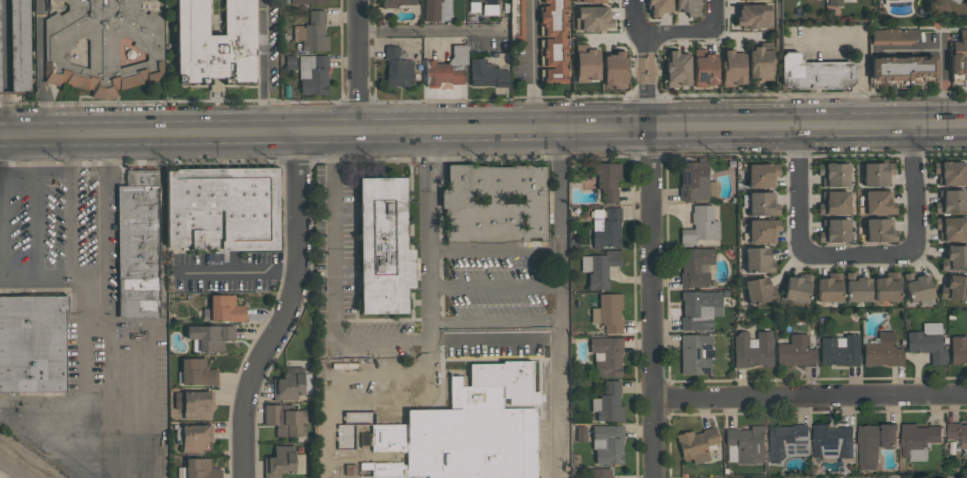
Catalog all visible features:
building: (591, 0)
building: (751, 0)
building: (851, 0)
building: (953, 0)
building: (308, 2)
building: (398, 3)
building: (834, 3)
building: (484, 6)
building: (658, 7)
building: (687, 7)
building: (431, 10)
road: (635, 14)
building: (753, 17)
building: (517, 18)
building: (594, 19)
road: (688, 29)
road: (428, 32)
building: (312, 33)
building: (894, 36)
building: (214, 40)
building: (553, 41)
road: (640, 41)
building: (19, 45)
building: (103, 46)
road: (859, 53)
building: (458, 54)
building: (958, 59)
building: (759, 63)
building: (586, 64)
road: (527, 66)
road: (359, 68)
building: (732, 68)
building: (903, 68)
road: (4, 69)
road: (39, 69)
road: (265, 69)
building: (398, 69)
building: (677, 69)
building: (704, 69)
building: (614, 70)
building: (814, 72)
building: (0, 73)
building: (443, 73)
building: (486, 74)
building: (313, 75)
road: (648, 92)
road: (483, 133)
road: (0, 159)
building: (876, 173)
building: (948, 173)
building: (761, 174)
building: (832, 174)
building: (694, 181)
building: (607, 182)
building: (950, 200)
building: (877, 202)
building: (496, 203)
building: (833, 203)
building: (761, 204)
road: (72, 207)
road: (103, 207)
building: (221, 209)
building: (700, 225)
building: (606, 227)
building: (950, 228)
road: (560, 230)
building: (762, 230)
building: (833, 230)
building: (878, 230)
building: (137, 246)
building: (383, 246)
road: (855, 256)
building: (954, 258)
building: (757, 260)
building: (695, 266)
building: (599, 267)
road: (328, 270)
road: (236, 273)
road: (90, 276)
building: (917, 286)
building: (856, 287)
building: (796, 288)
building: (954, 288)
building: (828, 289)
building: (885, 289)
building: (758, 290)
road: (652, 304)
building: (225, 308)
building: (699, 309)
road: (287, 312)
building: (608, 312)
road: (81, 327)
building: (210, 336)
road: (378, 338)
road: (554, 340)
building: (927, 342)
building: (32, 343)
building: (752, 349)
building: (957, 349)
building: (838, 350)
building: (881, 351)
road: (429, 352)
building: (795, 352)
building: (695, 353)
building: (606, 355)
building: (196, 372)
building: (288, 384)
road: (810, 394)
building: (192, 402)
building: (608, 402)
building: (281, 419)
building: (468, 428)
building: (958, 434)
building: (194, 437)
building: (917, 440)
building: (340, 441)
building: (787, 442)
building: (831, 442)
building: (695, 443)
building: (873, 443)
building: (607, 444)
building: (745, 444)
building: (282, 462)
building: (198, 469)
building: (598, 473)

